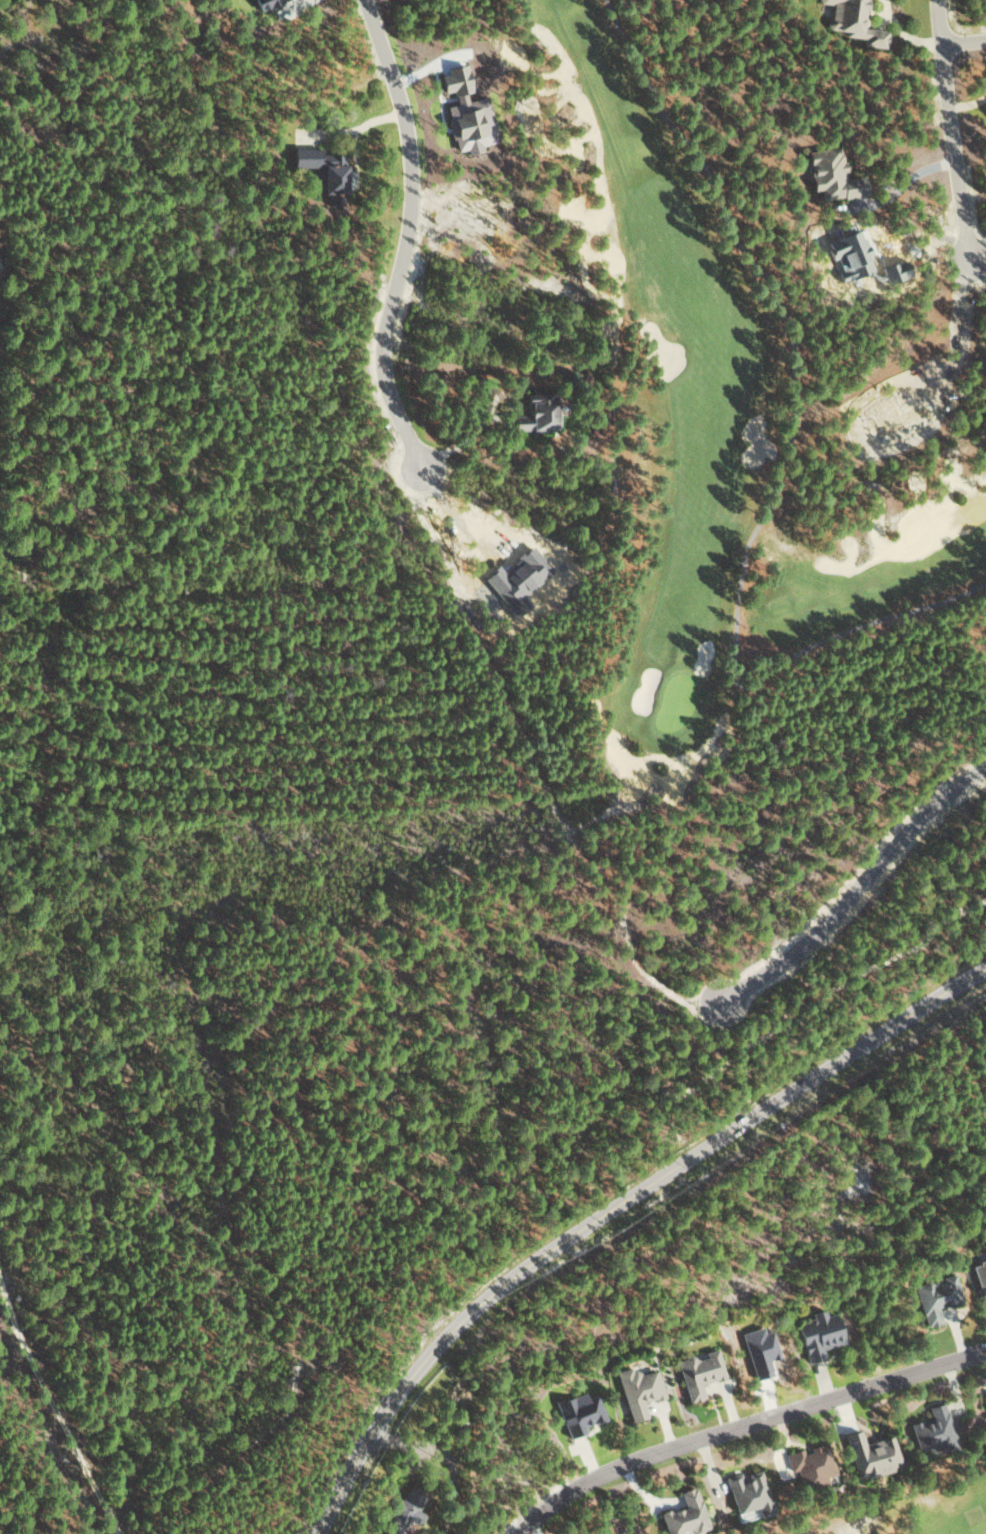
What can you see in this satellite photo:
building: (263, 3)
building: (853, 21)
road: (969, 41)
building: (467, 126)
road: (959, 130)
building: (322, 171)
building: (831, 174)
road: (401, 237)
building: (535, 412)
park: (711, 431)
road: (854, 883)
road: (613, 1212)
building: (981, 1278)
building: (937, 1297)
building: (819, 1334)
building: (699, 1372)
building: (639, 1389)
building: (578, 1412)
road: (747, 1428)
building: (934, 1429)
building: (871, 1453)
building: (811, 1464)
building: (748, 1491)
building: (406, 1510)
park: (918, 1512)
building: (685, 1513)

